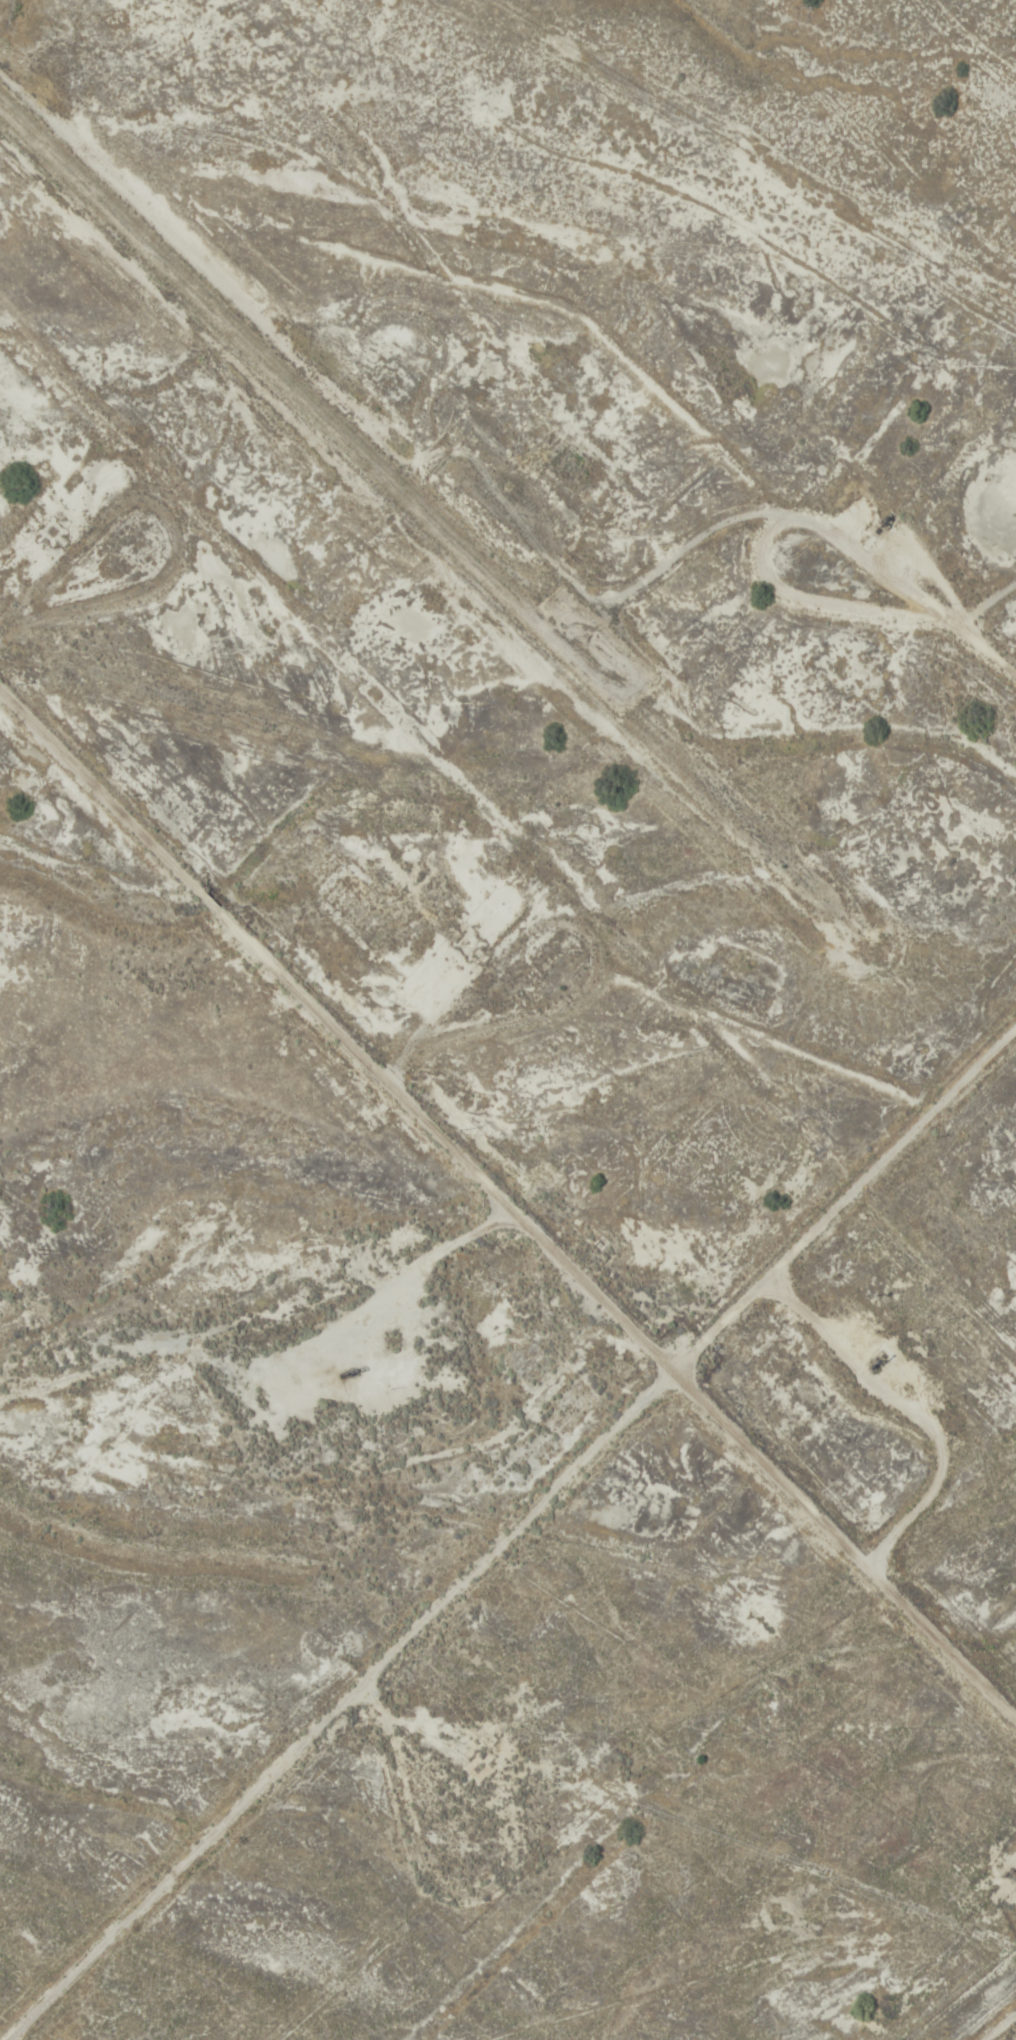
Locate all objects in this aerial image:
road: (986, 588)
road: (825, 599)
road: (508, 1200)
road: (507, 1520)
road: (479, 1793)

